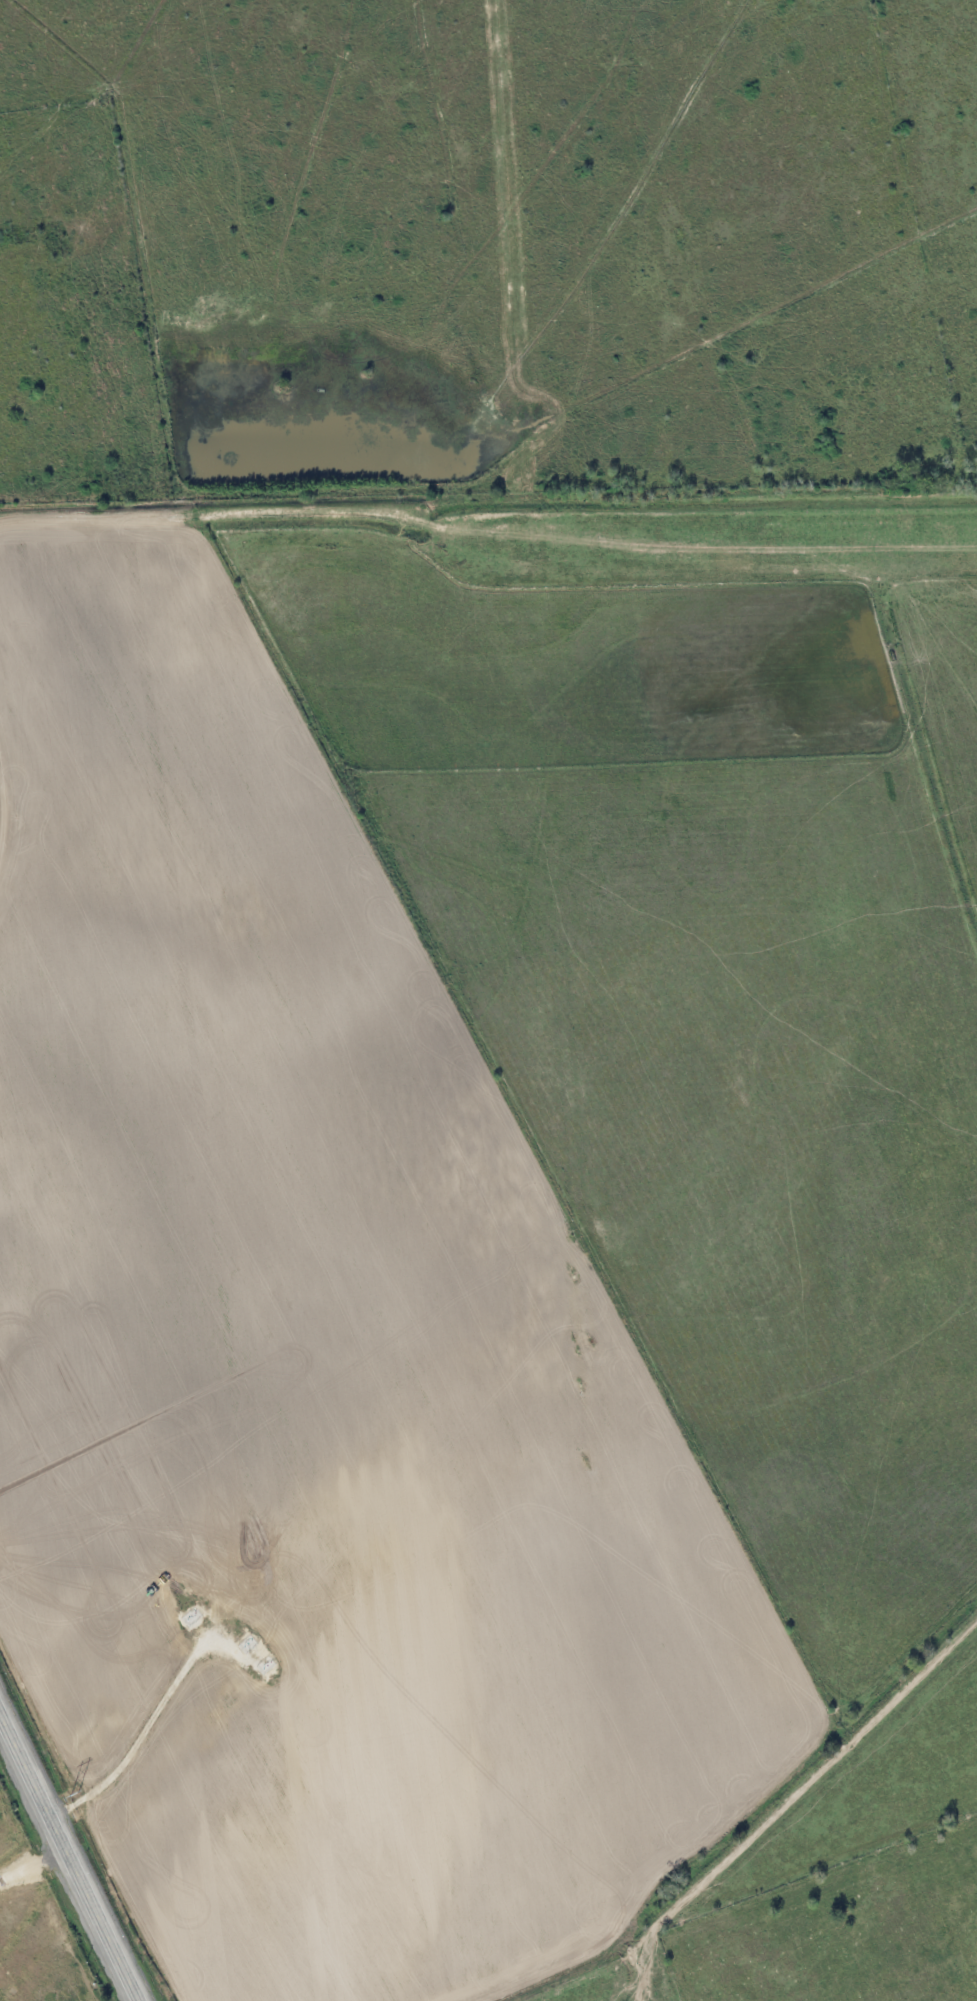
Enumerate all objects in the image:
power tower: (74, 1793)
road: (68, 1859)

